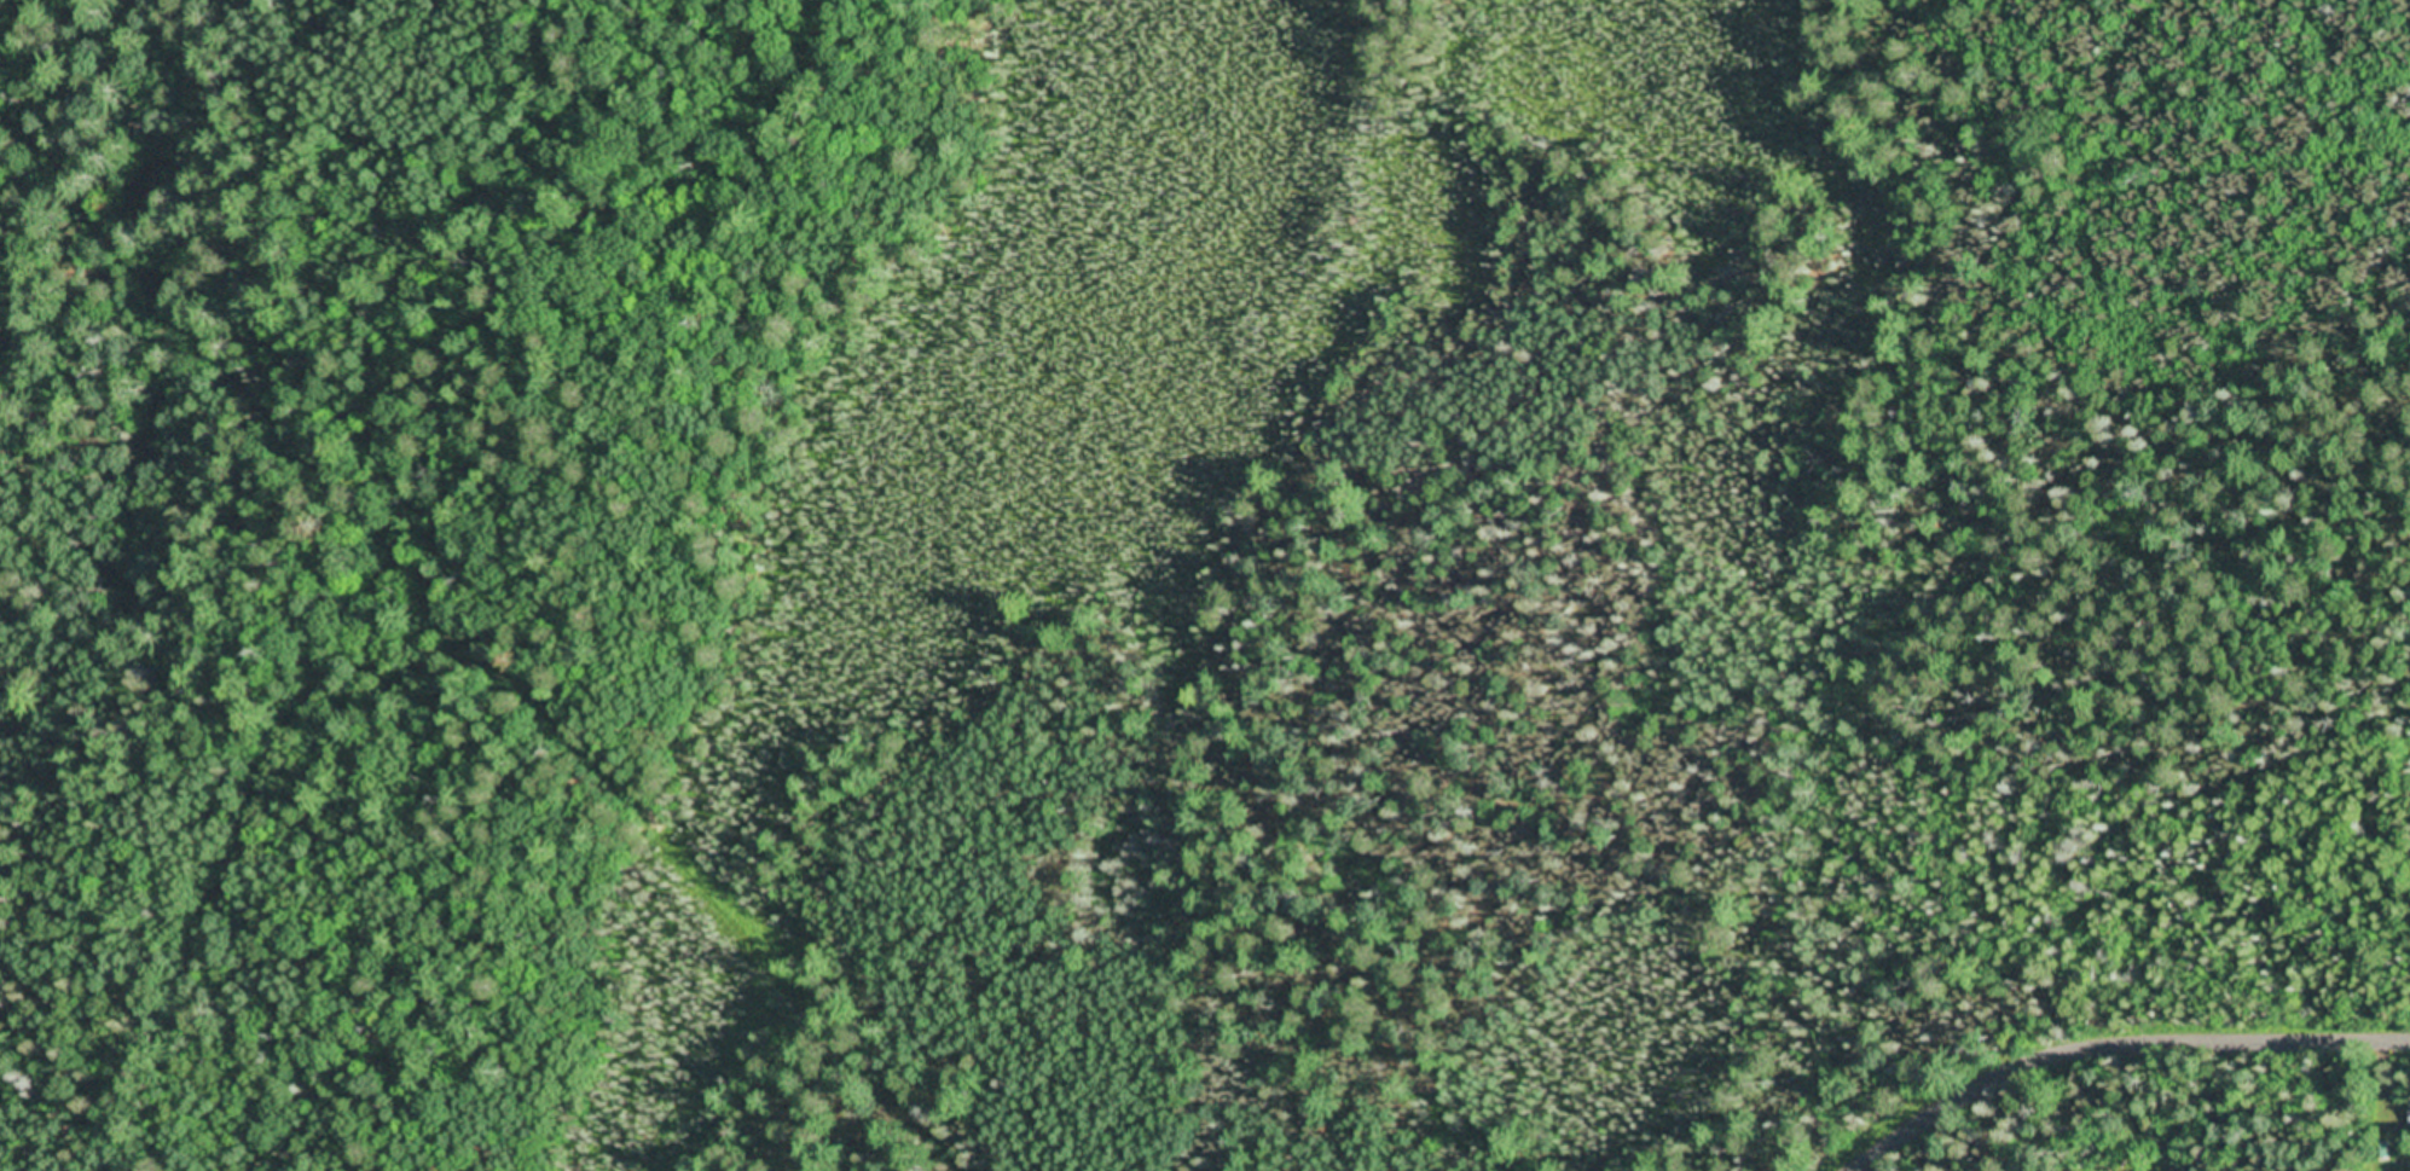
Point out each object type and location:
road: (2115, 1045)
building: (2366, 1132)
building: (2190, 1164)
building: (2369, 1164)

